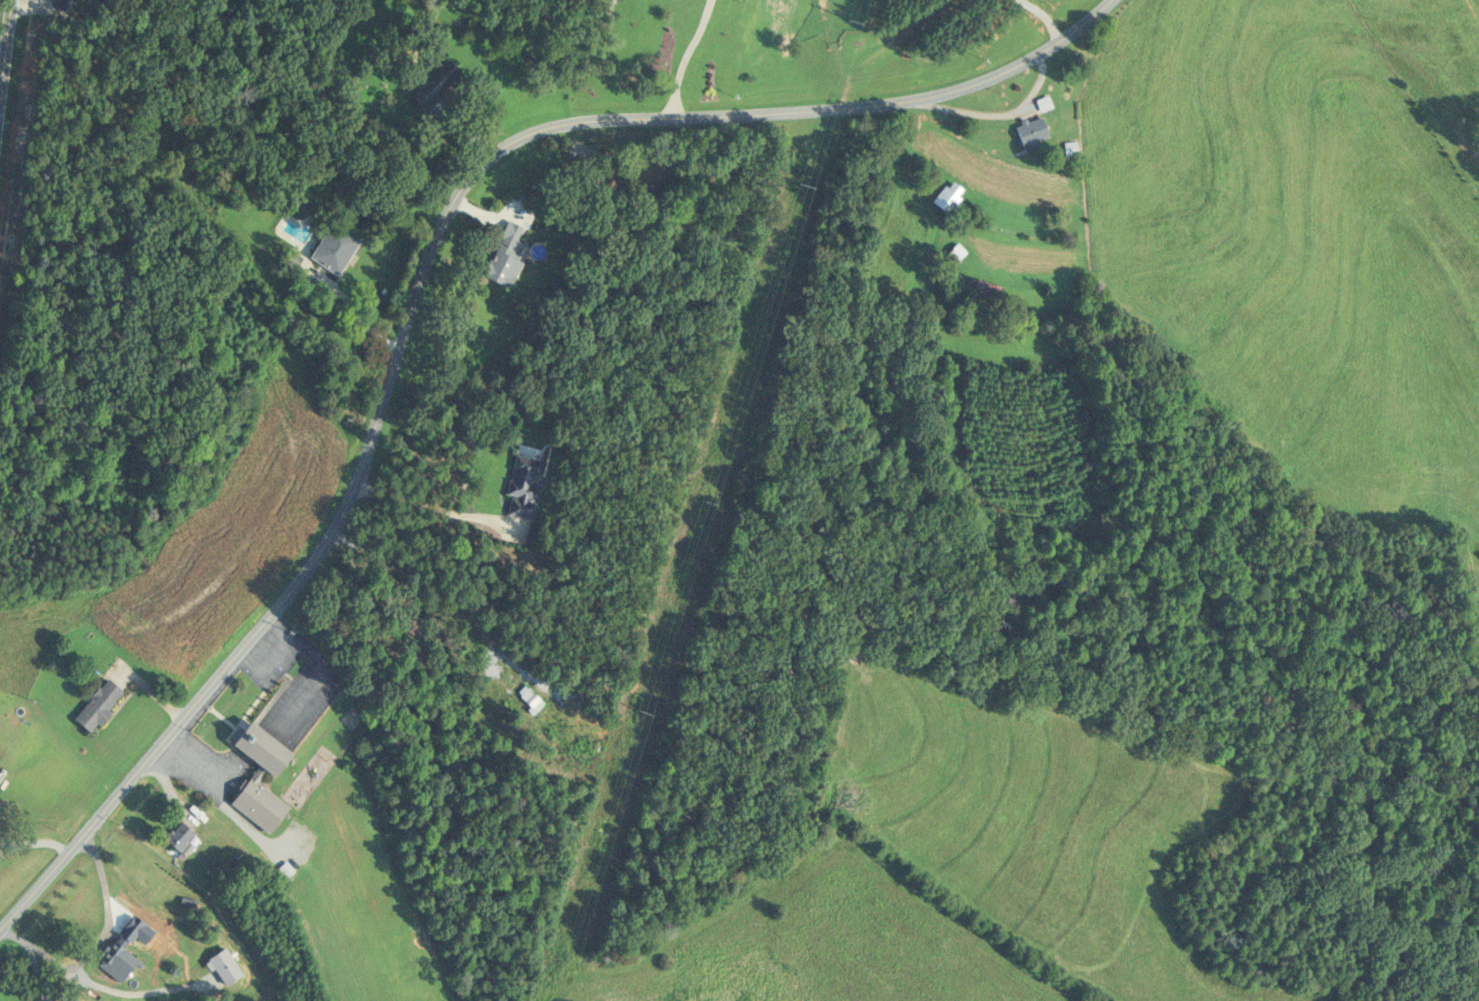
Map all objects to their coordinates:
building: (66, 3)
road: (685, 56)
road: (6, 59)
building: (434, 84)
building: (1043, 102)
building: (1030, 132)
building: (1069, 148)
building: (947, 195)
building: (333, 246)
building: (956, 251)
building: (505, 254)
building: (292, 258)
road: (426, 274)
building: (981, 290)
building: (521, 485)
road: (431, 507)
building: (87, 637)
building: (555, 670)
building: (528, 698)
building: (95, 704)
building: (256, 775)
building: (178, 835)
road: (108, 907)
building: (122, 951)
road: (97, 985)
building: (159, 989)

